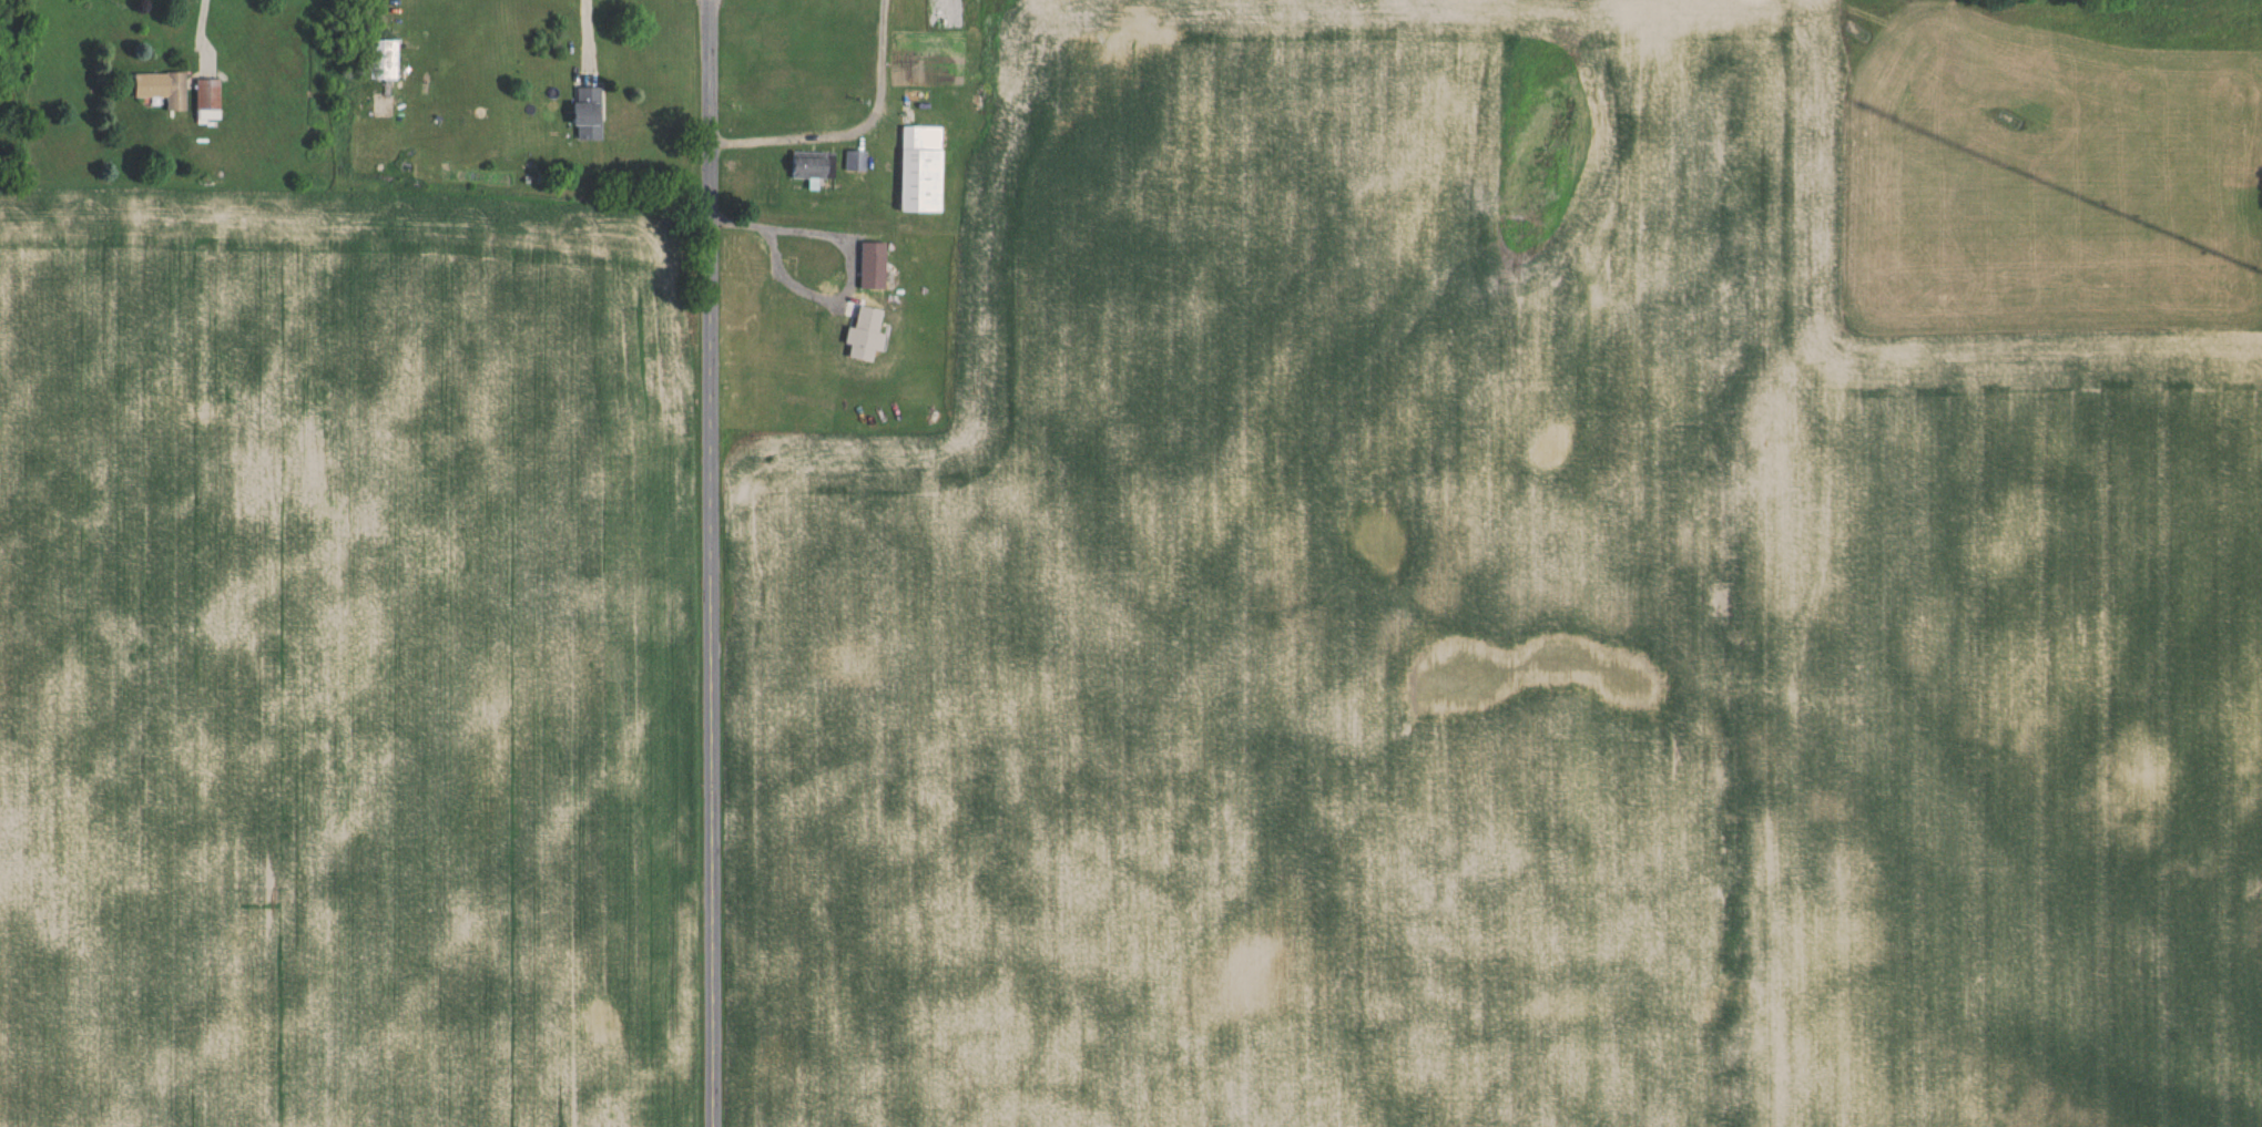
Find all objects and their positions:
building: (385, 63)
building: (164, 89)
building: (208, 101)
building: (590, 114)
road: (852, 132)
building: (855, 160)
building: (812, 166)
building: (920, 171)
road: (842, 278)
building: (818, 284)
road: (715, 563)

